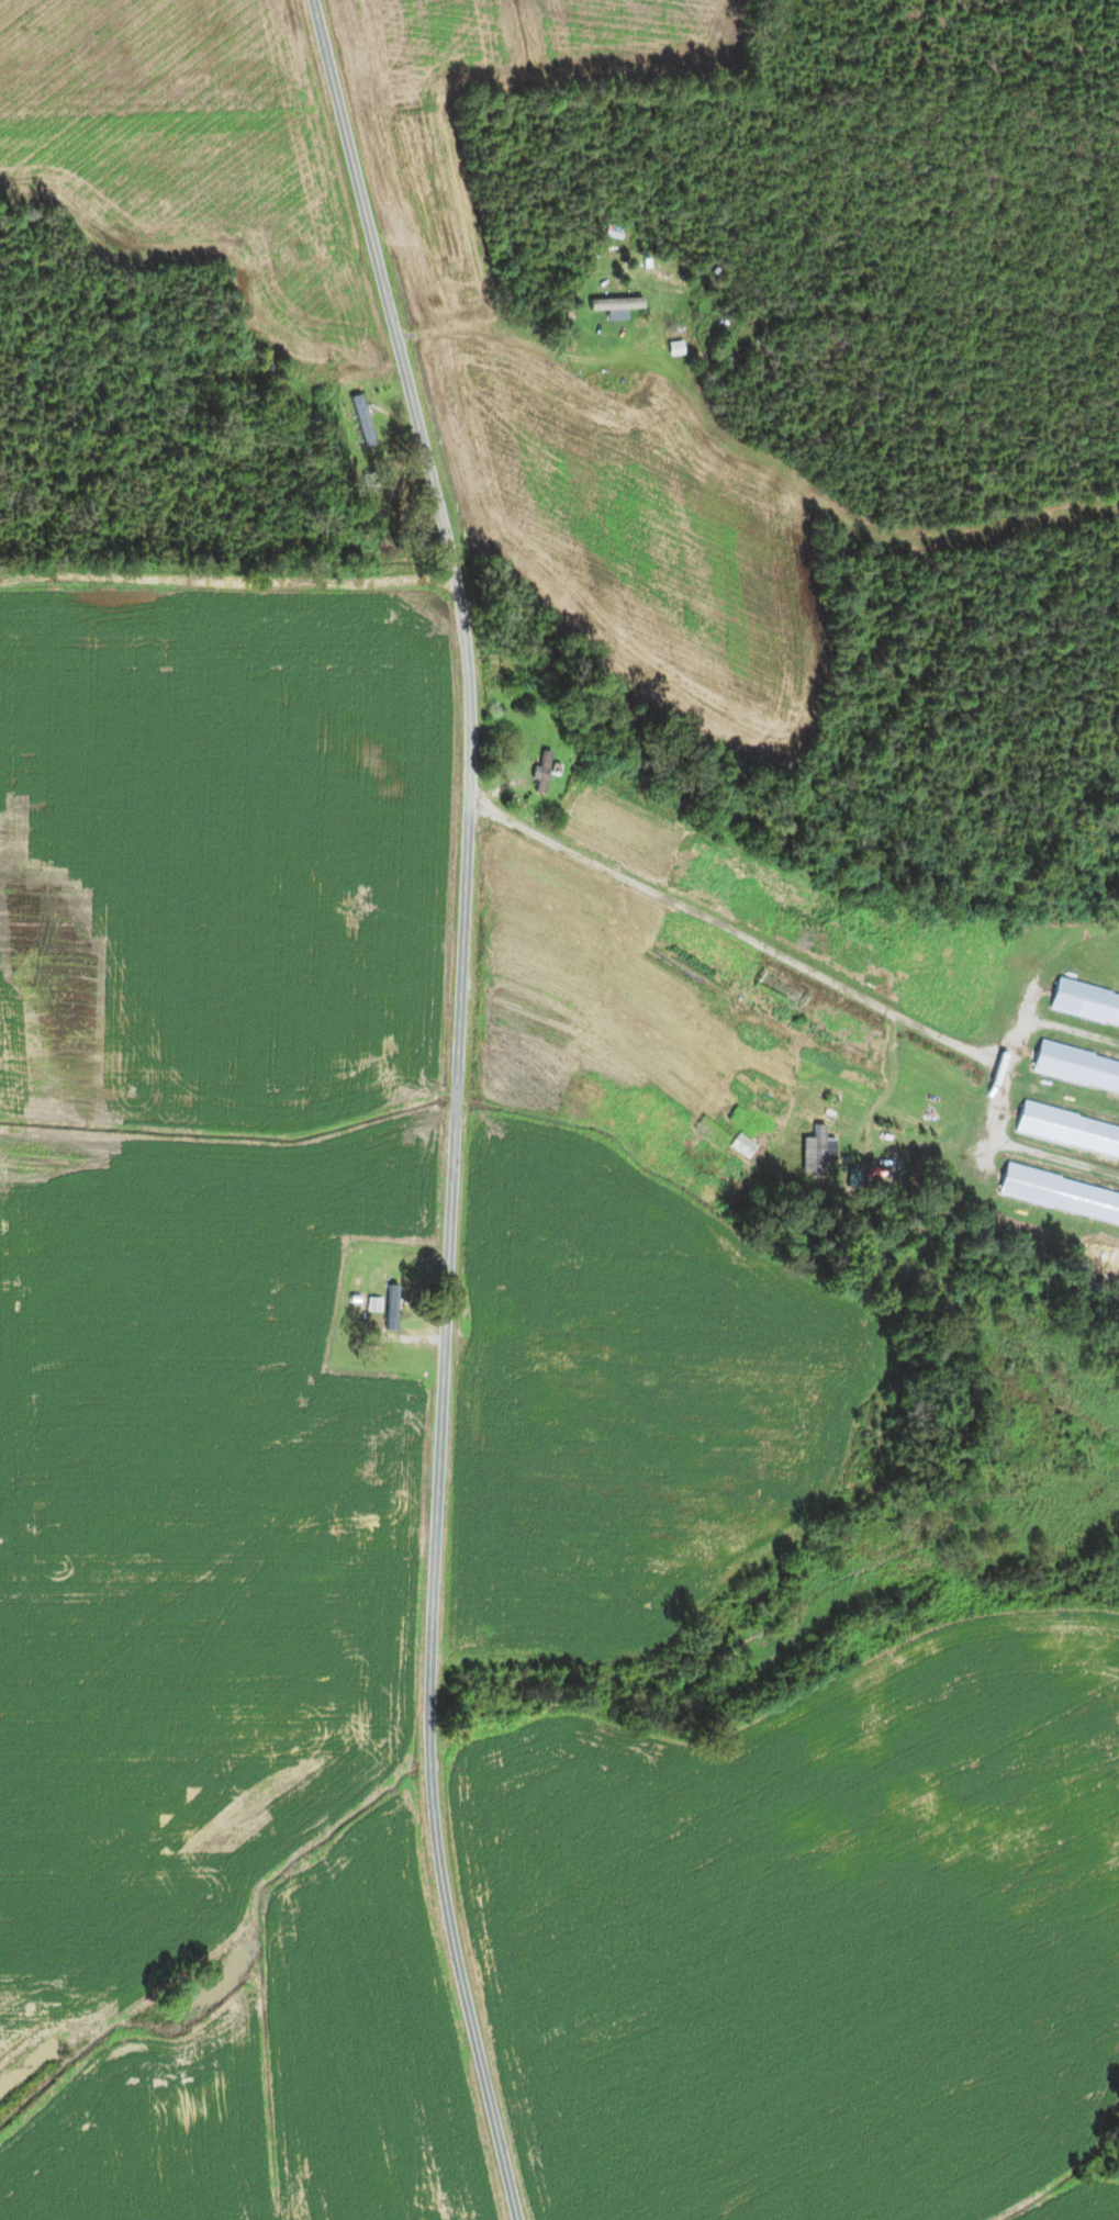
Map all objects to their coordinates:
road: (521, 335)
building: (261, 346)
building: (268, 374)
building: (362, 417)
building: (371, 481)
road: (243, 585)
road: (728, 930)
building: (1086, 1005)
building: (1077, 1069)
road: (456, 1106)
building: (1068, 1132)
building: (819, 1152)
building: (715, 1155)
building: (1060, 1197)
building: (373, 1304)
building: (393, 1308)
building: (857, 1475)

